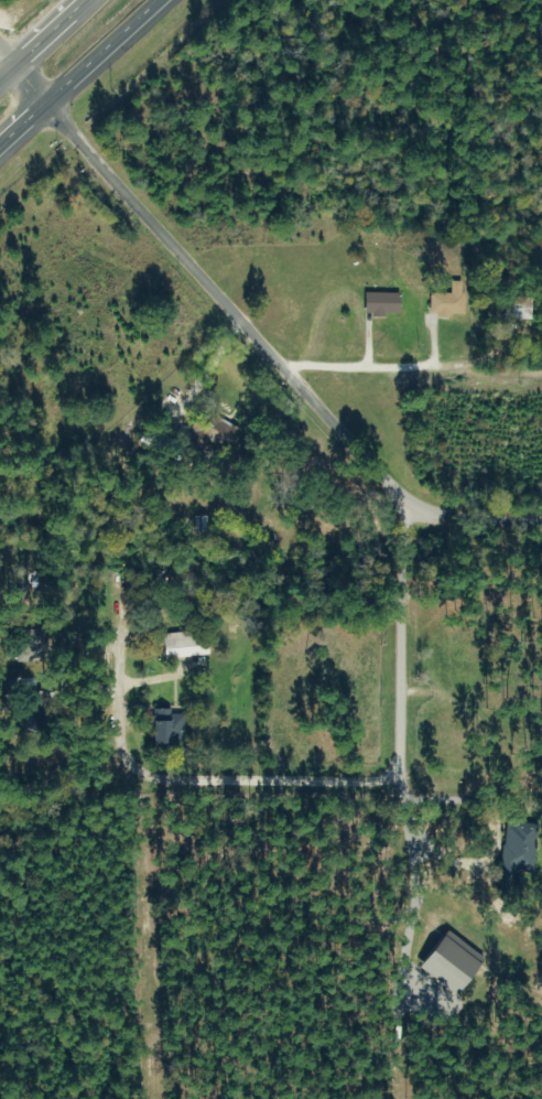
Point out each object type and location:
road: (41, 37)
road: (72, 66)
road: (28, 78)
road: (347, 229)
building: (449, 302)
building: (383, 305)
building: (520, 309)
road: (267, 343)
building: (210, 435)
building: (187, 645)
building: (33, 646)
building: (170, 730)
road: (382, 862)

